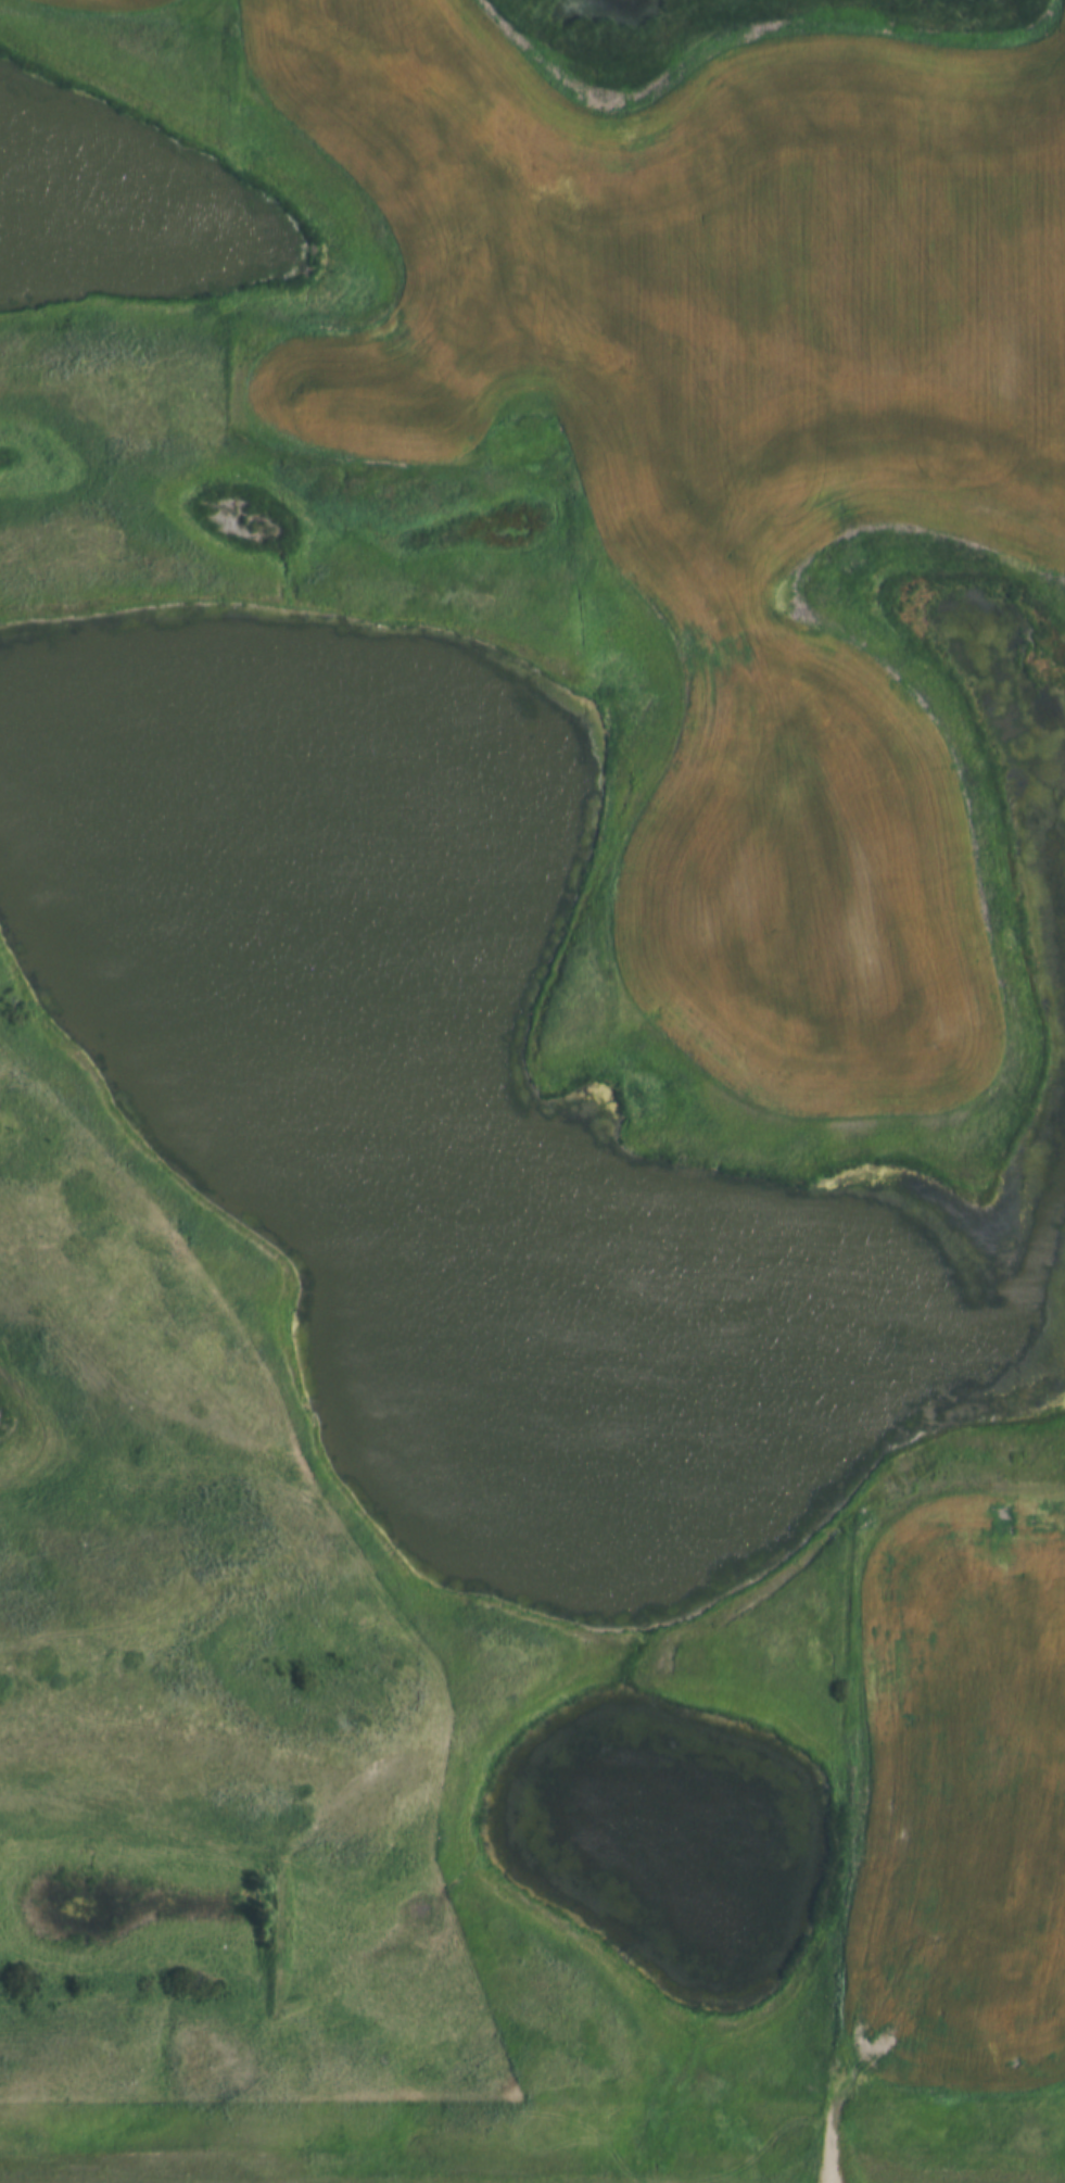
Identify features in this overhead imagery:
road: (836, 2125)

